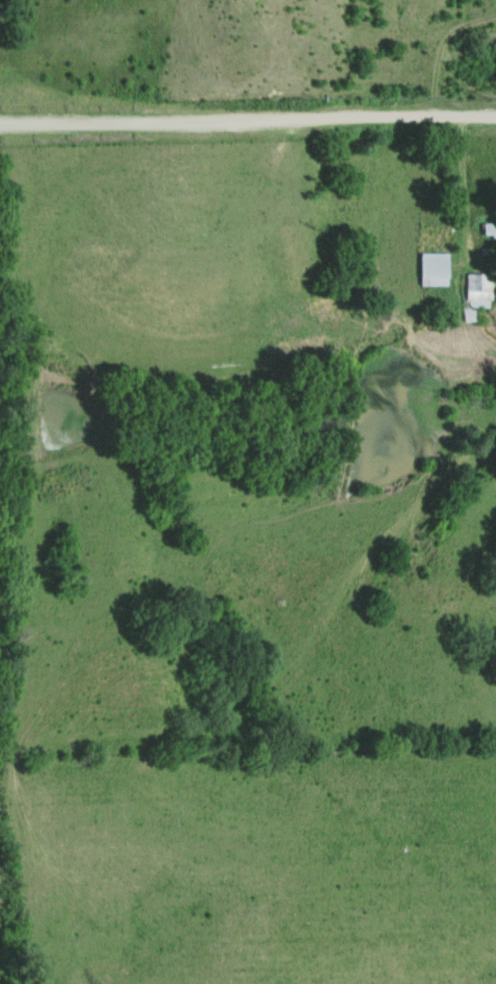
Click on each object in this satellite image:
road: (247, 120)
road: (460, 199)
building: (489, 228)
building: (434, 264)
building: (480, 286)

